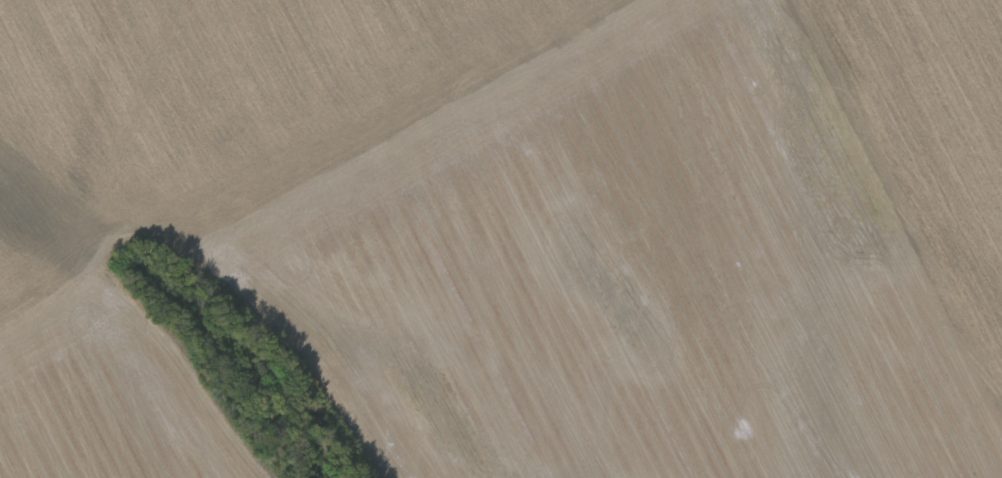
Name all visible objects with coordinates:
crop: (592, 276)

